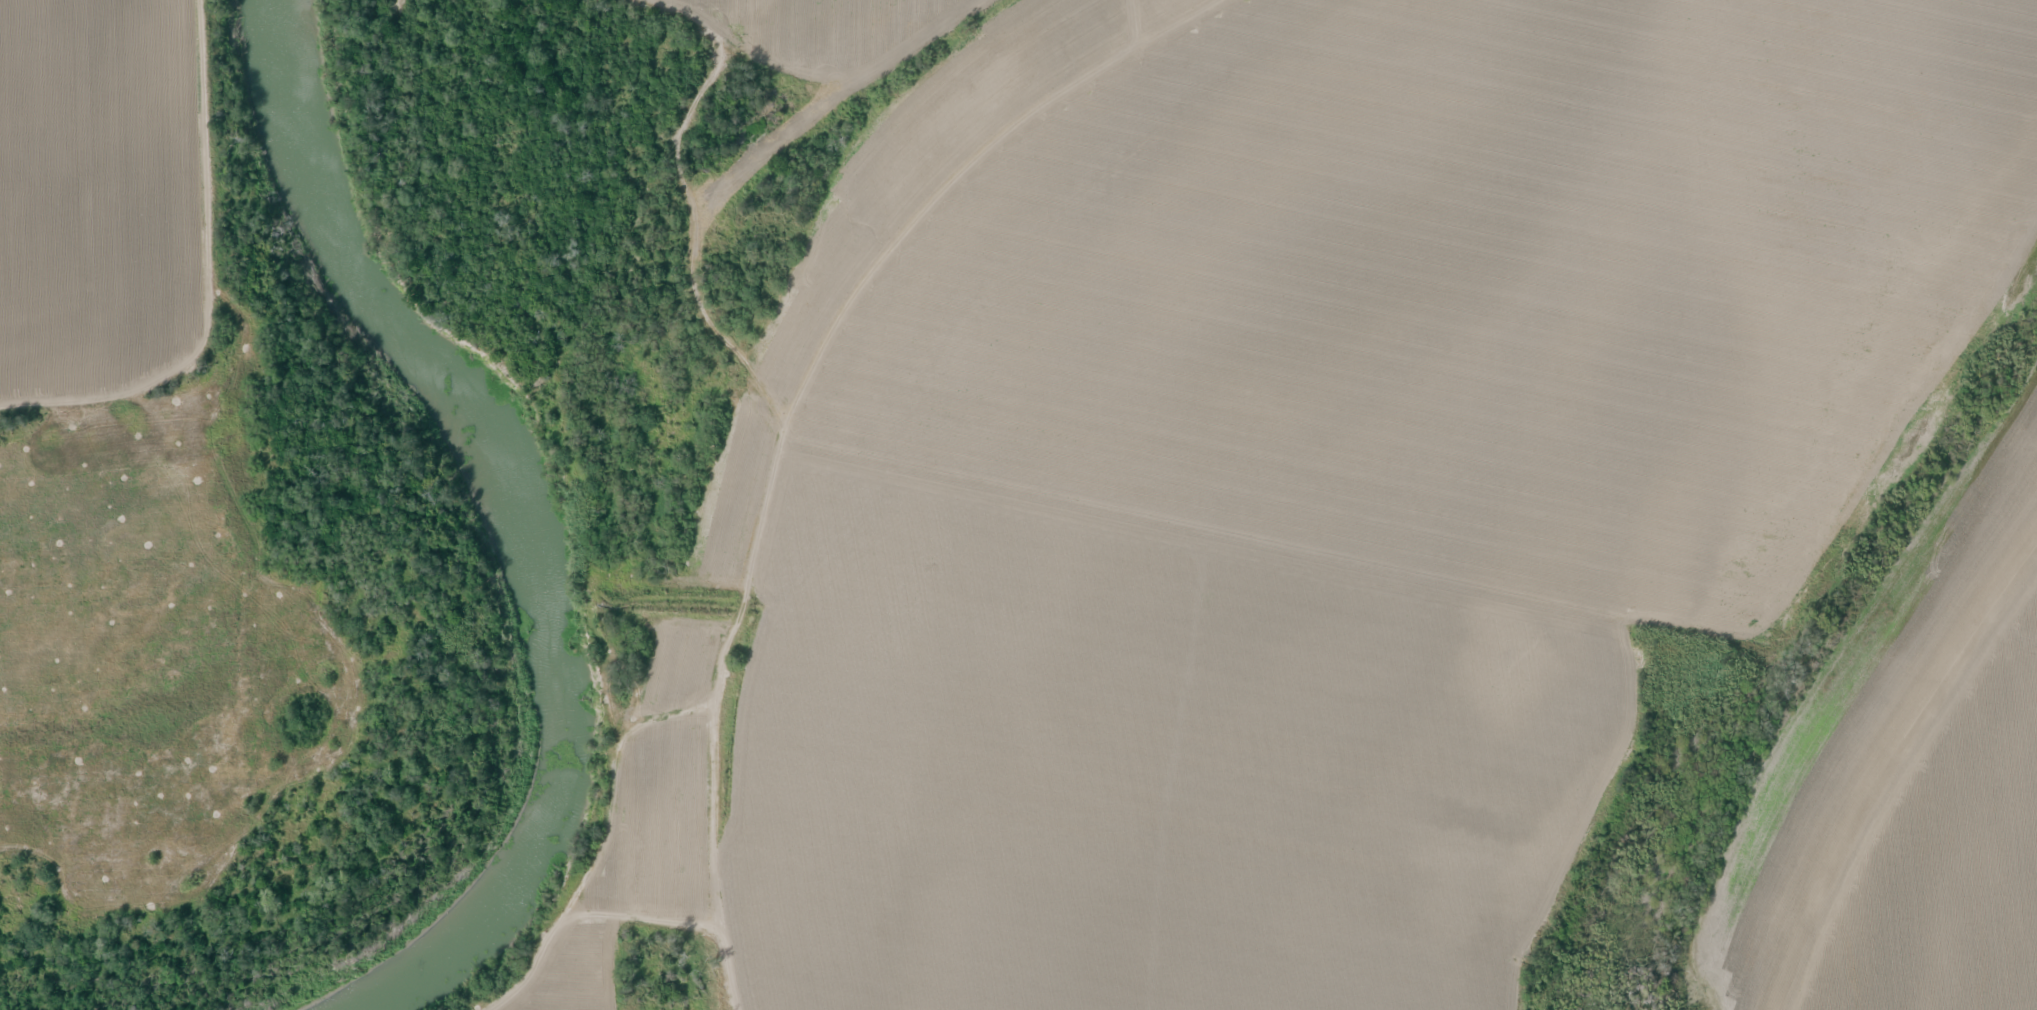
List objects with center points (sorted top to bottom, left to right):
river: (521, 518)

